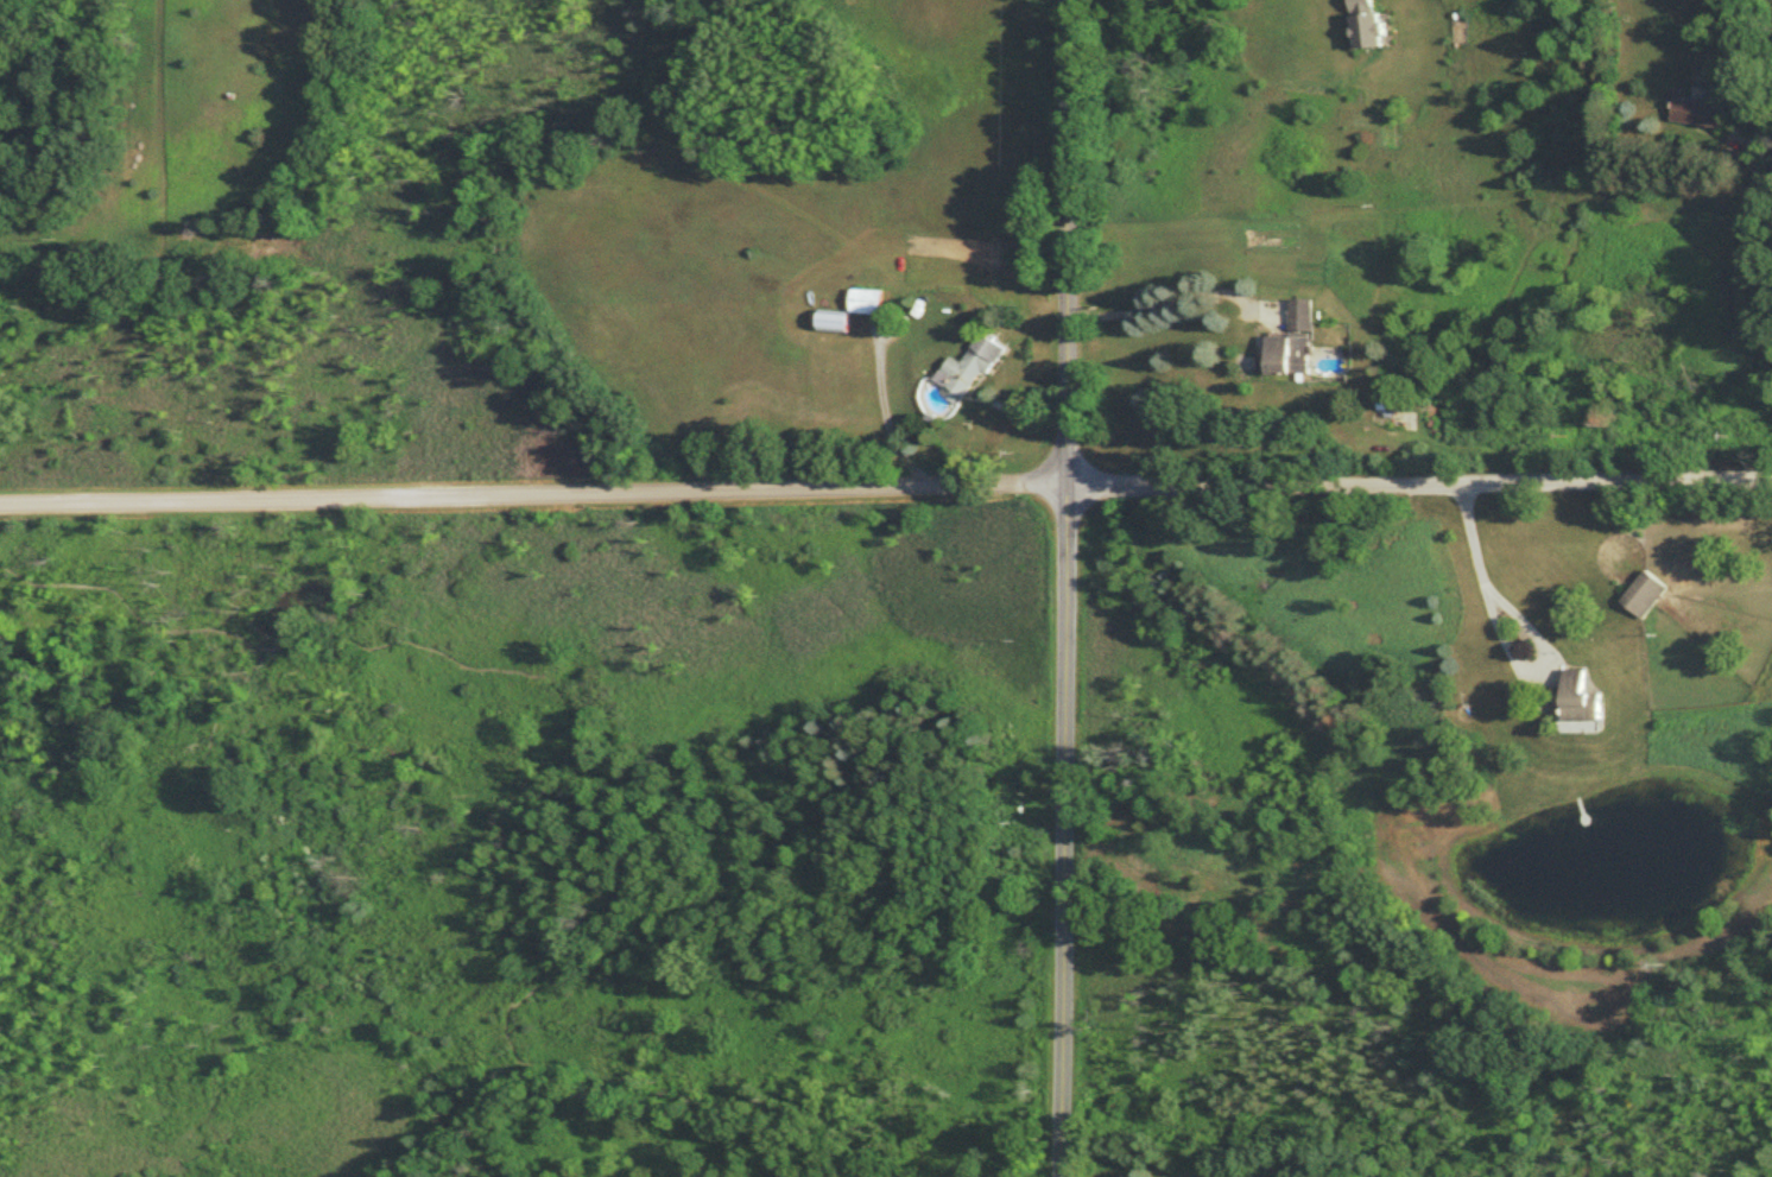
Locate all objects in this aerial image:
building: (1366, 25)
building: (1701, 114)
road: (1755, 150)
road: (1067, 242)
road: (1160, 305)
building: (852, 312)
building: (1295, 344)
building: (969, 372)
road: (1420, 485)
road: (533, 493)
road: (1486, 577)
building: (1645, 596)
building: (1581, 701)
road: (587, 741)
road: (1064, 831)

